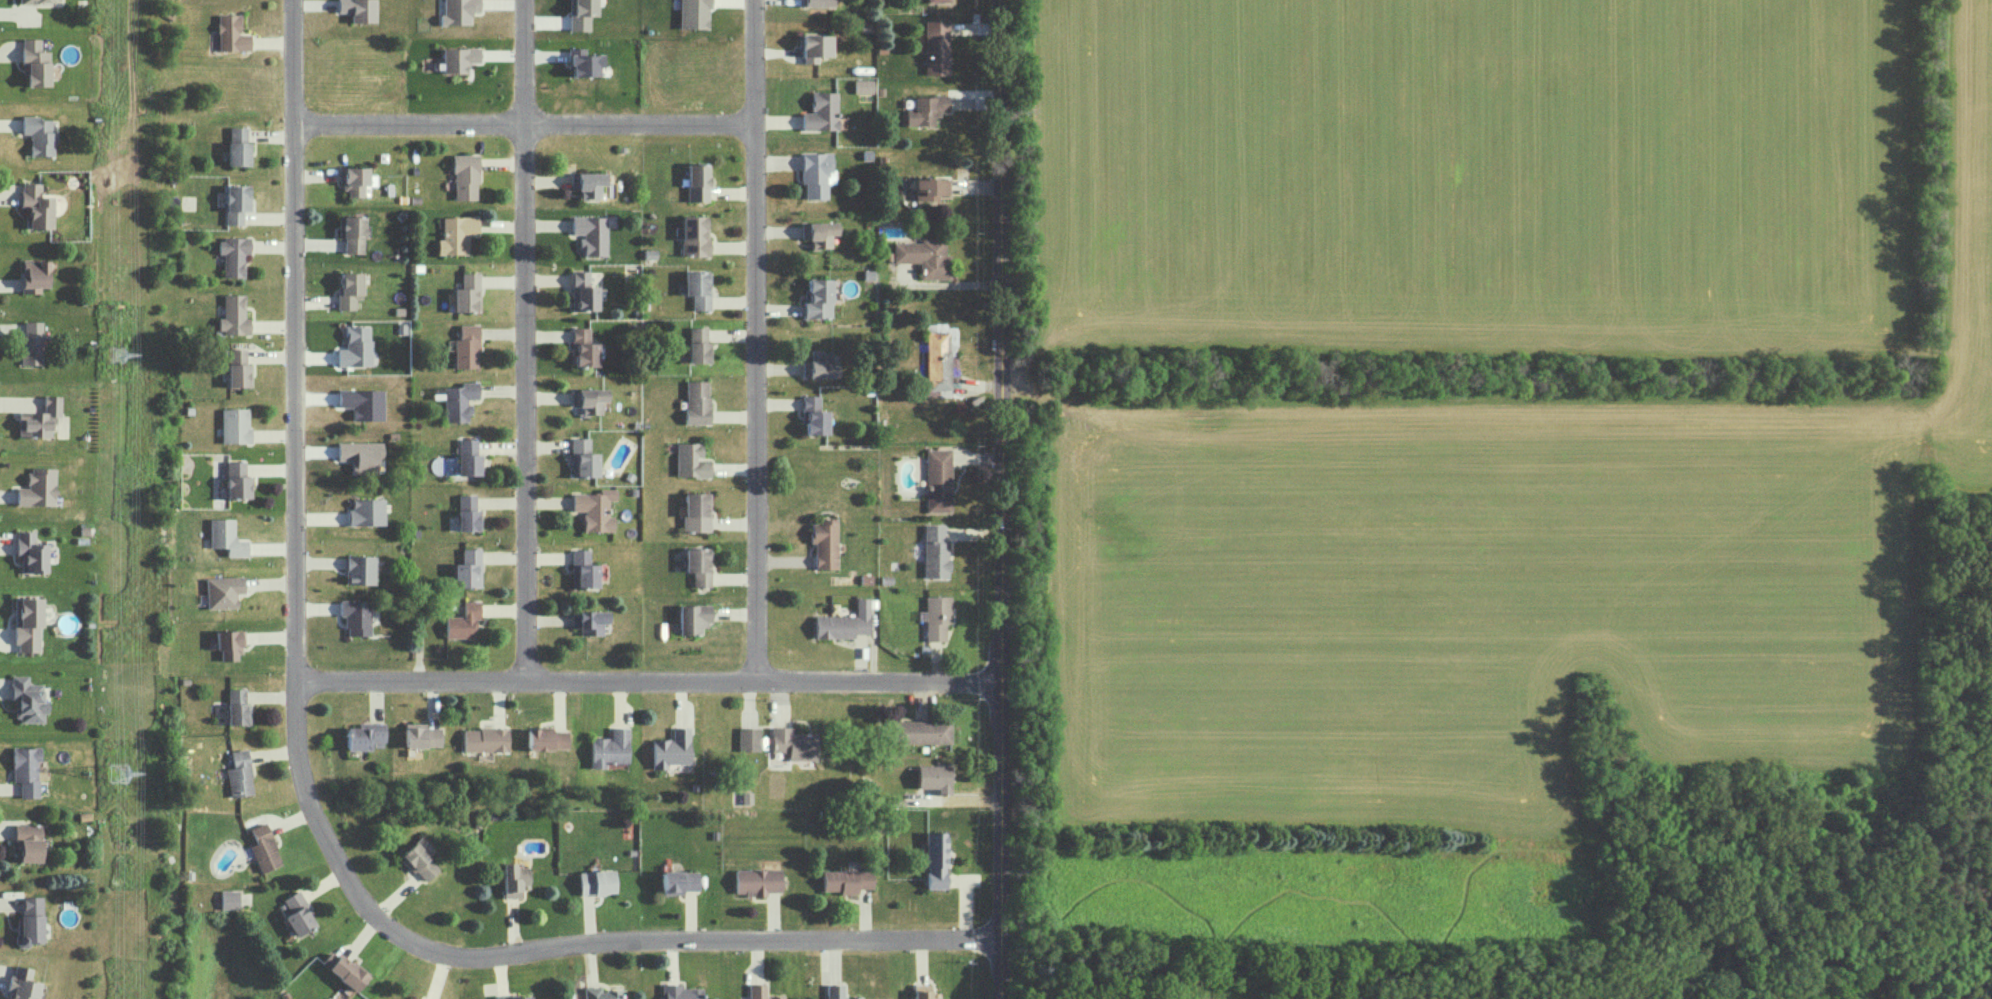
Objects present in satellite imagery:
building: (37, 1)
building: (937, 1)
building: (816, 3)
building: (357, 9)
building: (457, 11)
building: (580, 13)
building: (692, 14)
building: (230, 34)
building: (813, 47)
building: (935, 47)
building: (457, 59)
building: (34, 63)
building: (582, 63)
road: (524, 64)
building: (861, 86)
building: (924, 109)
building: (819, 112)
road: (526, 128)
building: (38, 135)
building: (238, 147)
building: (815, 173)
building: (464, 176)
building: (354, 180)
building: (695, 182)
building: (586, 183)
building: (929, 188)
building: (235, 202)
building: (35, 205)
building: (351, 233)
building: (818, 233)
building: (456, 234)
building: (589, 234)
building: (692, 235)
building: (232, 255)
building: (923, 256)
building: (33, 275)
road: (950, 283)
building: (696, 288)
building: (348, 289)
building: (581, 291)
building: (466, 293)
building: (817, 299)
building: (233, 315)
road: (299, 338)
road: (755, 339)
building: (31, 343)
building: (696, 345)
building: (466, 346)
building: (355, 347)
building: (581, 347)
power tower: (115, 354)
building: (936, 360)
building: (818, 365)
building: (237, 367)
building: (588, 400)
building: (458, 401)
building: (696, 401)
road: (528, 403)
building: (812, 416)
building: (39, 418)
building: (234, 425)
building: (362, 456)
building: (467, 456)
building: (582, 457)
building: (690, 460)
building: (237, 480)
building: (937, 480)
building: (38, 487)
road: (1007, 499)
building: (594, 509)
building: (695, 511)
building: (366, 512)
building: (467, 513)
building: (226, 537)
building: (823, 543)
building: (934, 551)
building: (31, 552)
building: (698, 565)
building: (360, 569)
building: (467, 569)
building: (582, 569)
building: (223, 591)
building: (356, 616)
building: (935, 616)
building: (692, 618)
building: (462, 621)
building: (589, 621)
building: (843, 622)
building: (27, 624)
building: (230, 643)
road: (655, 678)
building: (28, 699)
building: (237, 707)
building: (920, 731)
building: (421, 735)
building: (365, 736)
building: (545, 738)
building: (748, 738)
building: (484, 739)
building: (793, 743)
building: (609, 748)
building: (671, 748)
building: (26, 770)
power tower: (117, 773)
building: (239, 774)
building: (934, 777)
building: (28, 842)
building: (263, 848)
building: (419, 859)
building: (936, 860)
building: (513, 879)
building: (847, 880)
building: (679, 881)
building: (758, 881)
building: (596, 882)
building: (228, 899)
building: (297, 913)
building: (30, 920)
road: (562, 943)
building: (343, 969)
building: (21, 983)
building: (680, 991)
building: (761, 991)
building: (923, 991)
building: (837, 992)
building: (600, 993)
building: (513, 997)
building: (421, 998)

